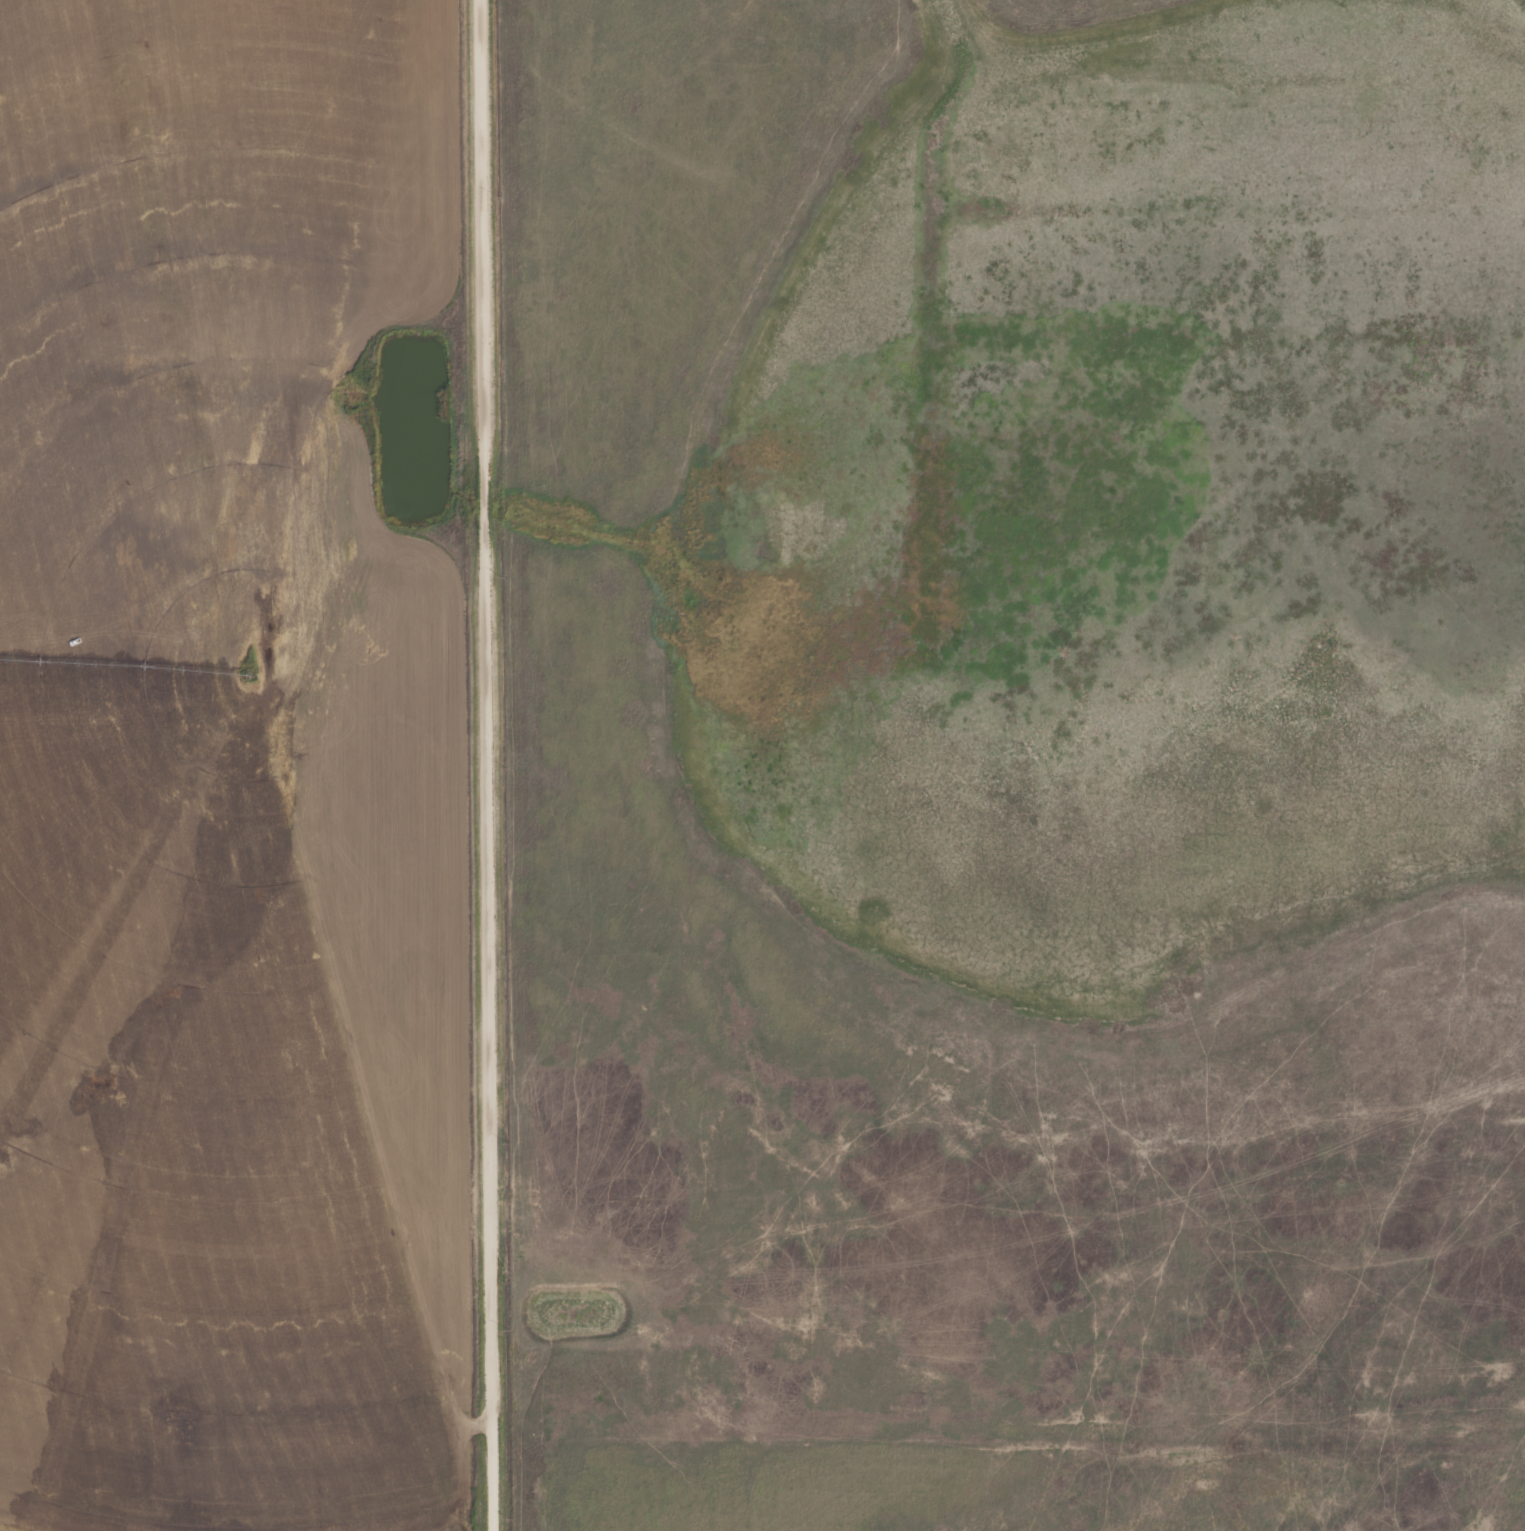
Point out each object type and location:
road: (490, 765)

